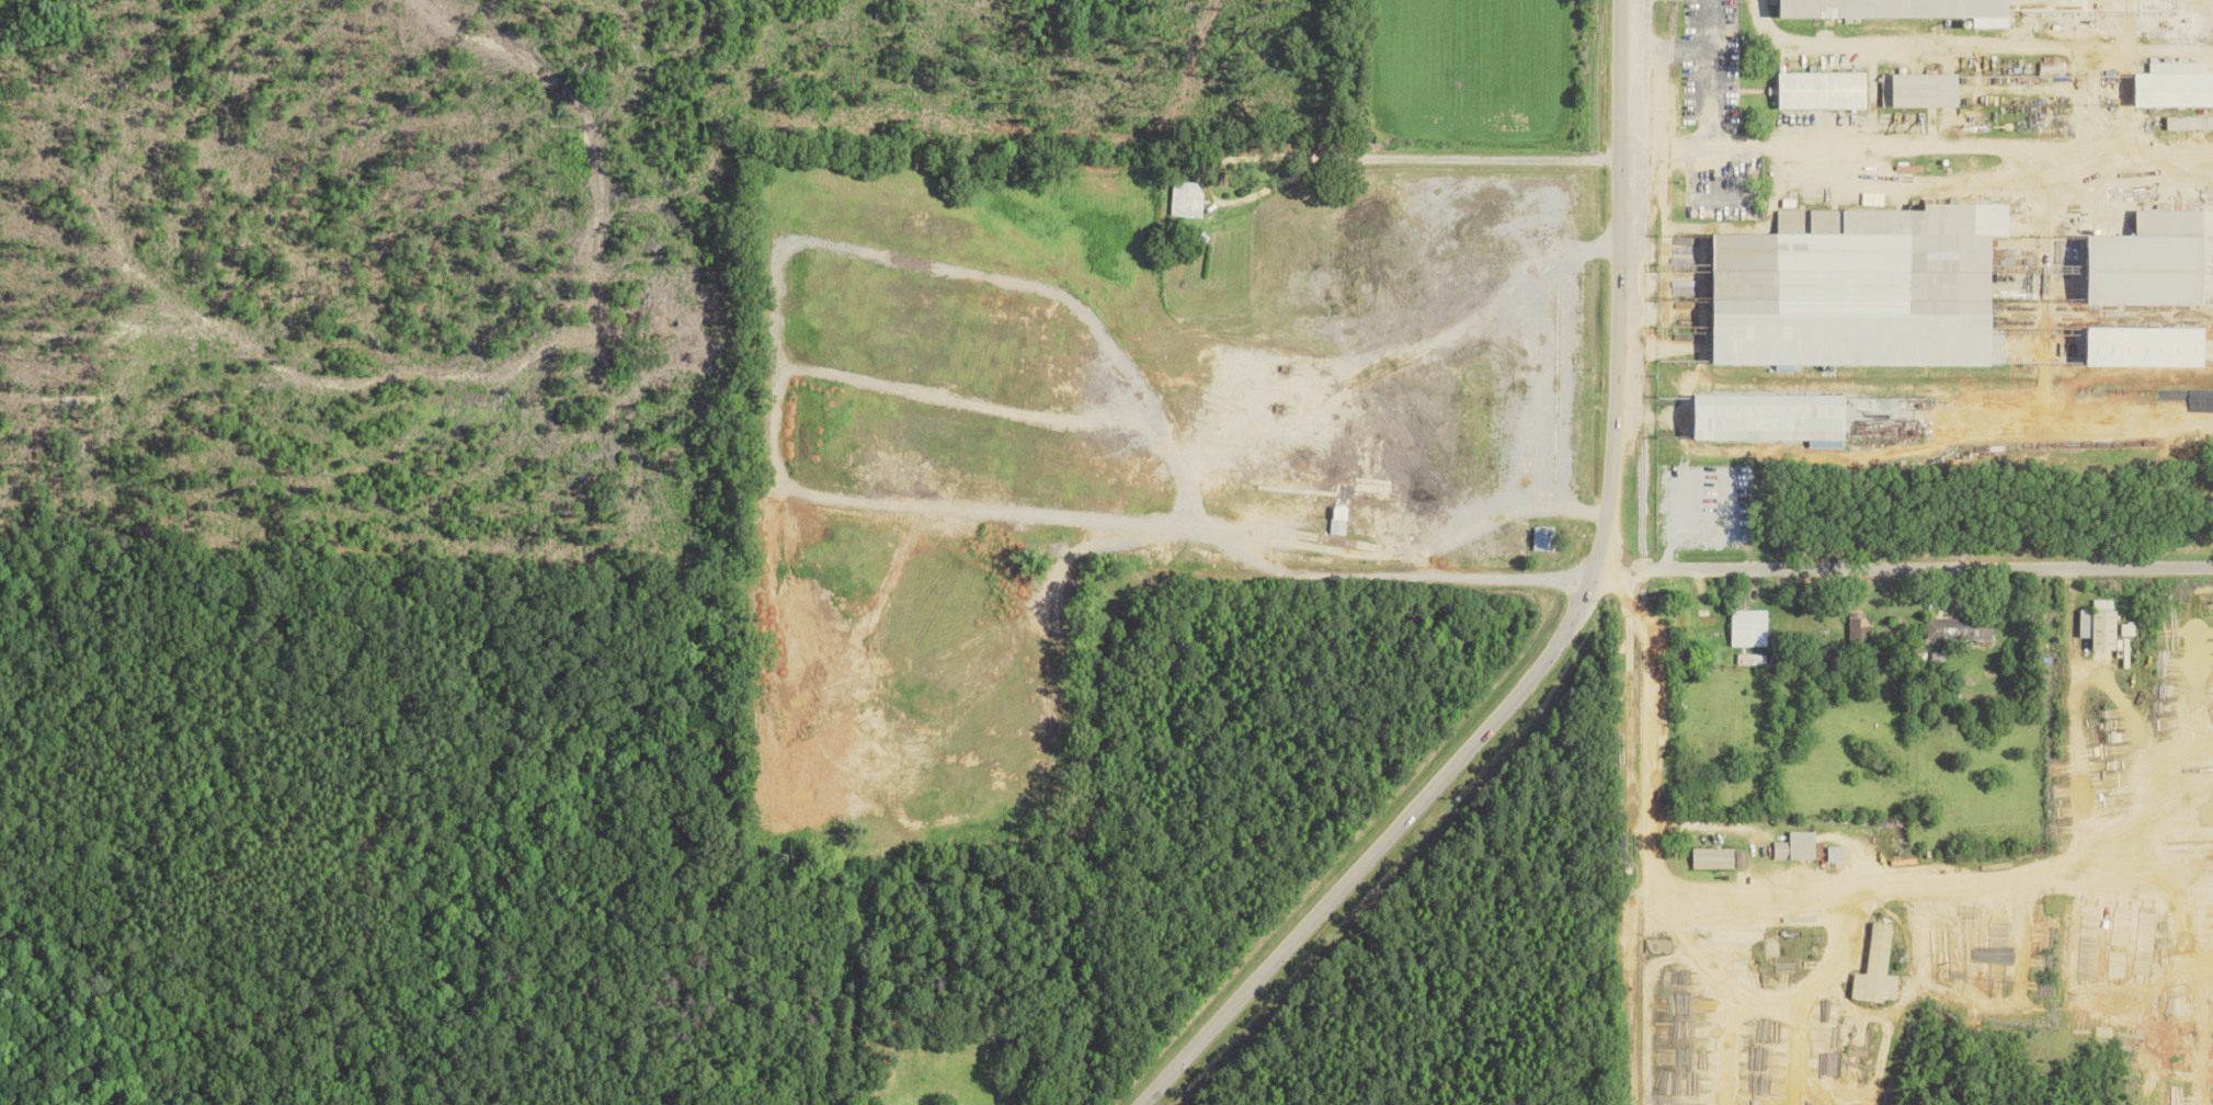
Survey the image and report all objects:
building: (1896, 8)
building: (2177, 86)
building: (1827, 90)
building: (1924, 90)
road: (1890, 148)
road: (1430, 166)
building: (1187, 200)
building: (2158, 261)
building: (1867, 288)
building: (2154, 348)
building: (1778, 418)
building: (1341, 521)
building: (1544, 539)
railway: (1650, 551)
road: (1904, 567)
road: (1572, 628)
building: (1752, 628)
building: (1961, 628)
building: (2102, 628)
road: (1118, 663)
building: (1799, 845)
building: (1838, 853)
building: (1721, 857)
road: (1885, 884)
building: (1880, 967)

